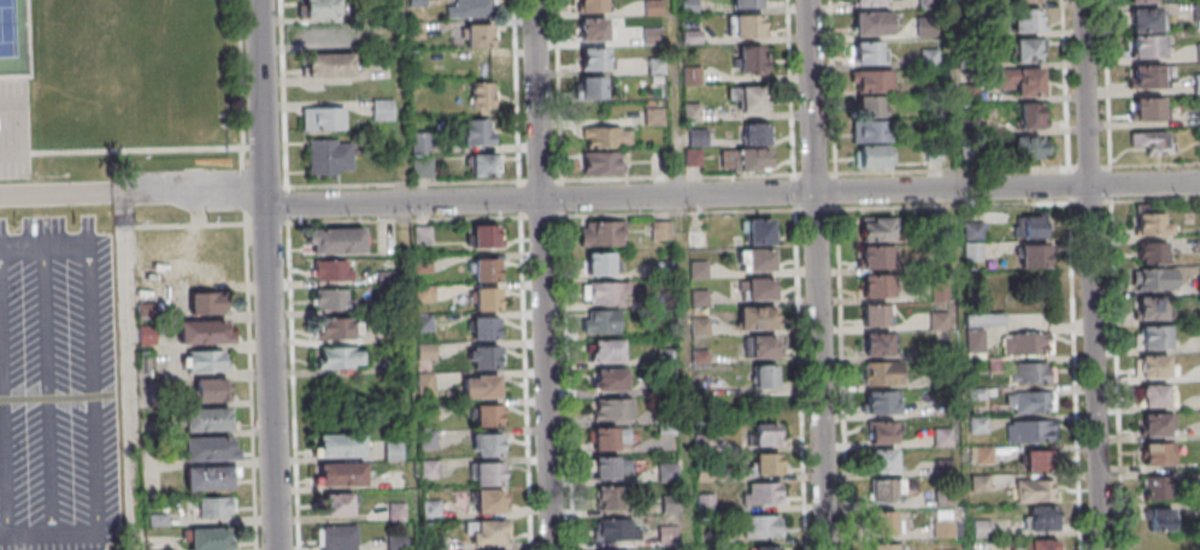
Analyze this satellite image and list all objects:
building: (1030, 1)
building: (870, 2)
building: (1147, 2)
building: (747, 4)
building: (590, 5)
building: (688, 5)
building: (322, 10)
building: (473, 10)
building: (1029, 22)
building: (1148, 22)
building: (871, 23)
building: (746, 25)
building: (593, 29)
building: (692, 34)
building: (478, 35)
park: (13, 39)
building: (1149, 48)
building: (1027, 49)
road: (29, 52)
building: (867, 52)
building: (594, 58)
building: (752, 58)
building: (478, 64)
building: (333, 66)
building: (1152, 78)
building: (871, 81)
building: (1020, 81)
building: (1196, 83)
building: (592, 88)
building: (481, 94)
building: (748, 97)
building: (387, 110)
building: (1153, 111)
building: (692, 112)
building: (654, 116)
building: (1199, 116)
building: (1030, 117)
building: (871, 119)
building: (328, 120)
road: (22, 128)
parking lot: (14, 131)
building: (478, 131)
building: (755, 134)
building: (1199, 136)
building: (606, 137)
building: (420, 142)
building: (1154, 142)
building: (695, 144)
road: (261, 146)
building: (1030, 147)
road: (131, 149)
building: (875, 156)
building: (333, 158)
building: (745, 159)
building: (605, 162)
building: (482, 164)
building: (422, 166)
road: (1094, 167)
road: (136, 191)
road: (735, 194)
road: (342, 219)
building: (1149, 220)
building: (665, 231)
building: (759, 231)
building: (601, 232)
building: (878, 232)
building: (977, 232)
building: (427, 236)
building: (488, 238)
building: (334, 241)
building: (1034, 242)
road: (43, 247)
building: (1152, 253)
building: (880, 259)
building: (600, 262)
building: (763, 262)
building: (427, 265)
building: (333, 270)
building: (666, 270)
building: (702, 271)
building: (490, 272)
road: (246, 274)
road: (271, 274)
road: (547, 274)
road: (822, 274)
road: (1098, 274)
building: (1155, 278)
building: (880, 288)
building: (764, 290)
building: (604, 292)
building: (943, 292)
building: (428, 294)
building: (334, 298)
building: (704, 298)
building: (489, 301)
building: (206, 302)
building: (1154, 307)
building: (880, 318)
building: (983, 319)
building: (764, 320)
building: (601, 321)
building: (943, 323)
building: (427, 324)
building: (704, 327)
building: (337, 329)
building: (487, 330)
building: (205, 332)
building: (1154, 336)
building: (978, 339)
building: (1025, 344)
building: (881, 345)
building: (765, 349)
building: (430, 353)
building: (611, 353)
building: (945, 353)
building: (340, 357)
building: (704, 357)
building: (488, 359)
building: (669, 359)
building: (205, 361)
road: (805, 361)
building: (1155, 366)
road: (130, 371)
building: (1029, 373)
building: (883, 375)
building: (769, 378)
building: (946, 378)
building: (429, 382)
building: (613, 382)
parking lot: (58, 388)
building: (671, 388)
road: (93, 389)
building: (210, 390)
building: (484, 390)
road: (47, 391)
building: (1155, 395)
road: (65, 397)
building: (1029, 401)
building: (884, 404)
building: (613, 410)
building: (431, 412)
building: (671, 416)
road: (2, 418)
building: (490, 418)
building: (210, 422)
building: (1157, 424)
building: (982, 426)
building: (1029, 431)
building: (886, 434)
building: (769, 437)
building: (611, 438)
building: (947, 438)
building: (431, 440)
building: (339, 444)
building: (708, 444)
building: (490, 446)
building: (208, 451)
building: (398, 453)
building: (1155, 454)
building: (987, 455)
building: (886, 462)
building: (1042, 462)
building: (612, 467)
building: (770, 467)
building: (948, 468)
building: (433, 471)
building: (340, 473)
building: (707, 473)
building: (671, 474)
building: (493, 475)
building: (211, 480)
building: (983, 484)
building: (1158, 487)
building: (889, 492)
building: (1043, 492)
building: (770, 495)
building: (607, 497)
building: (493, 502)
building: (340, 504)
building: (710, 504)
building: (675, 505)
building: (219, 508)
building: (436, 509)
building: (1160, 519)
building: (1046, 520)
building: (161, 521)
building: (887, 525)
building: (764, 528)
building: (948, 530)
building: (986, 530)
building: (619, 532)
road: (48, 534)
building: (493, 534)
building: (673, 536)
building: (336, 537)
building: (212, 539)
building: (400, 543)
building: (436, 543)
building: (154, 545)
building: (1017, 545)
building: (1046, 545)
building: (890, 548)
building: (775, 549)

